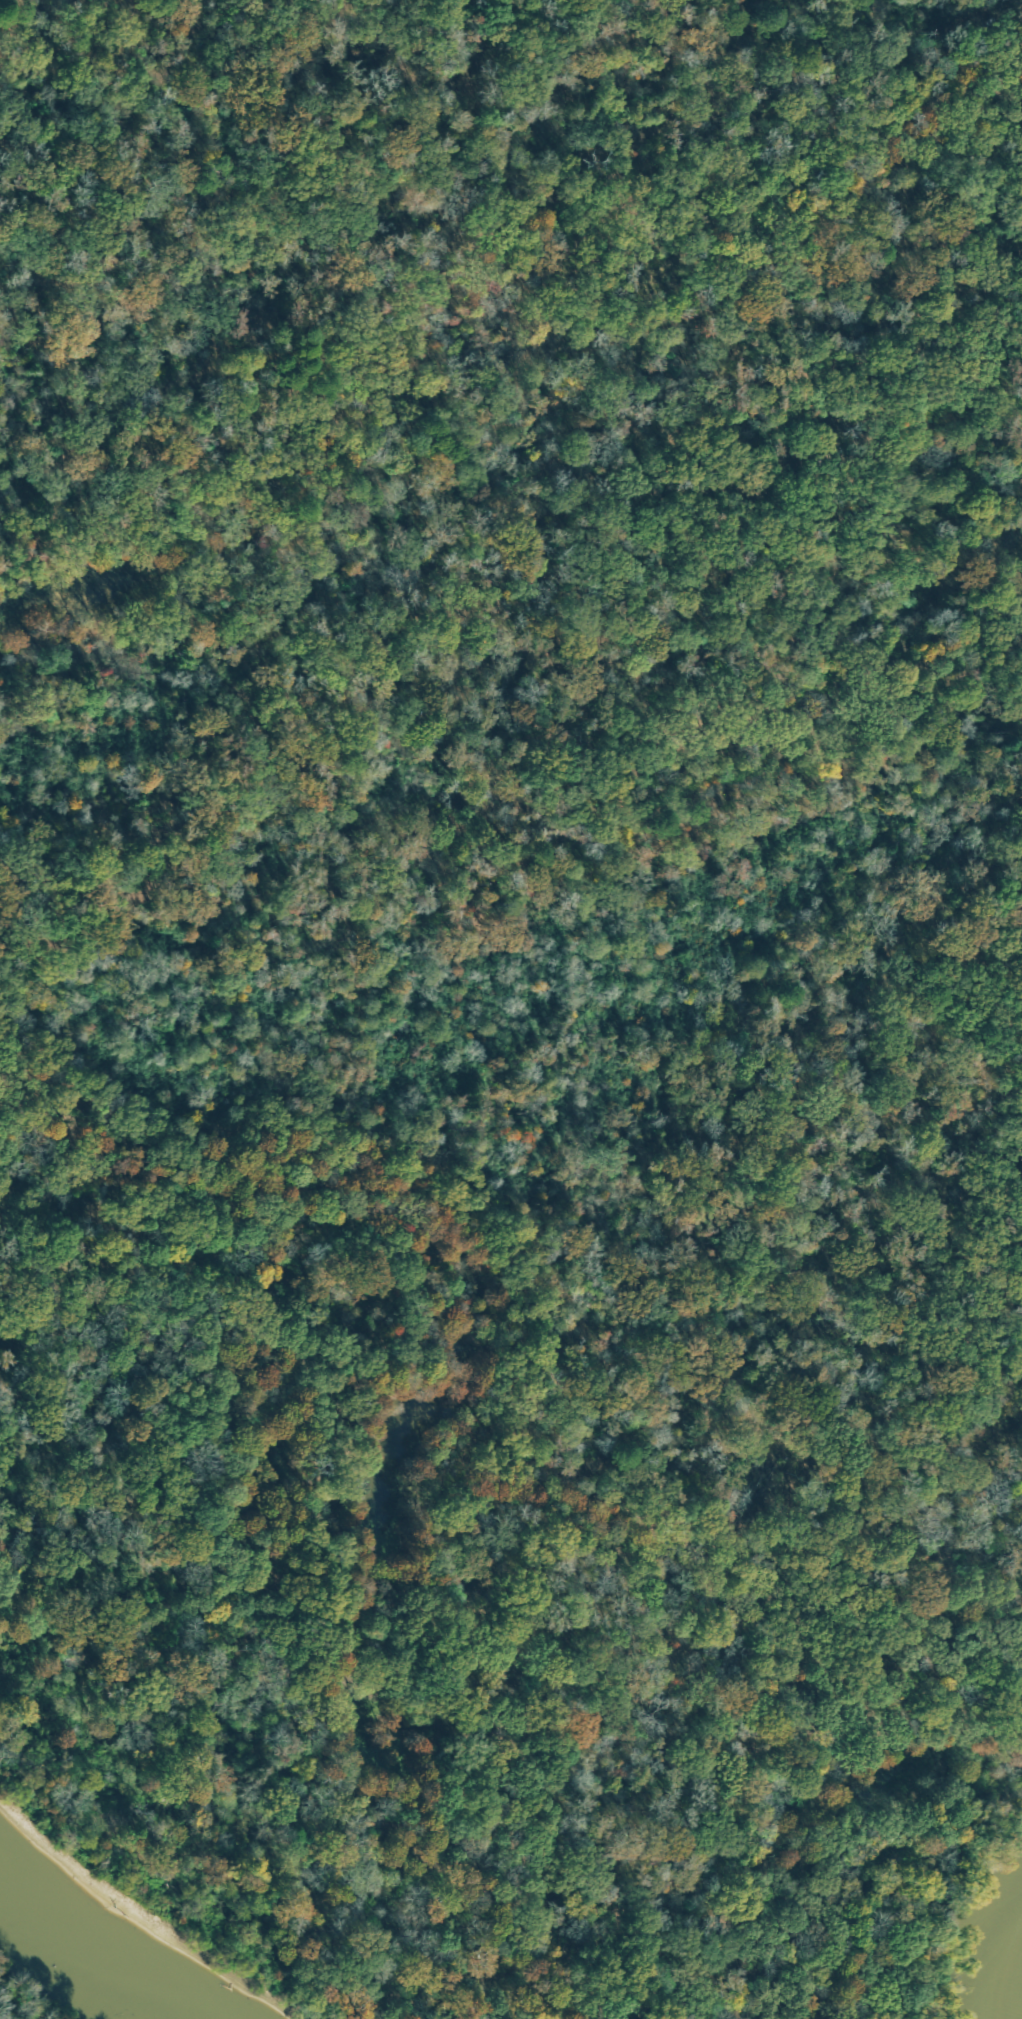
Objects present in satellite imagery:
river: (87, 1959)
river: (1014, 1981)

